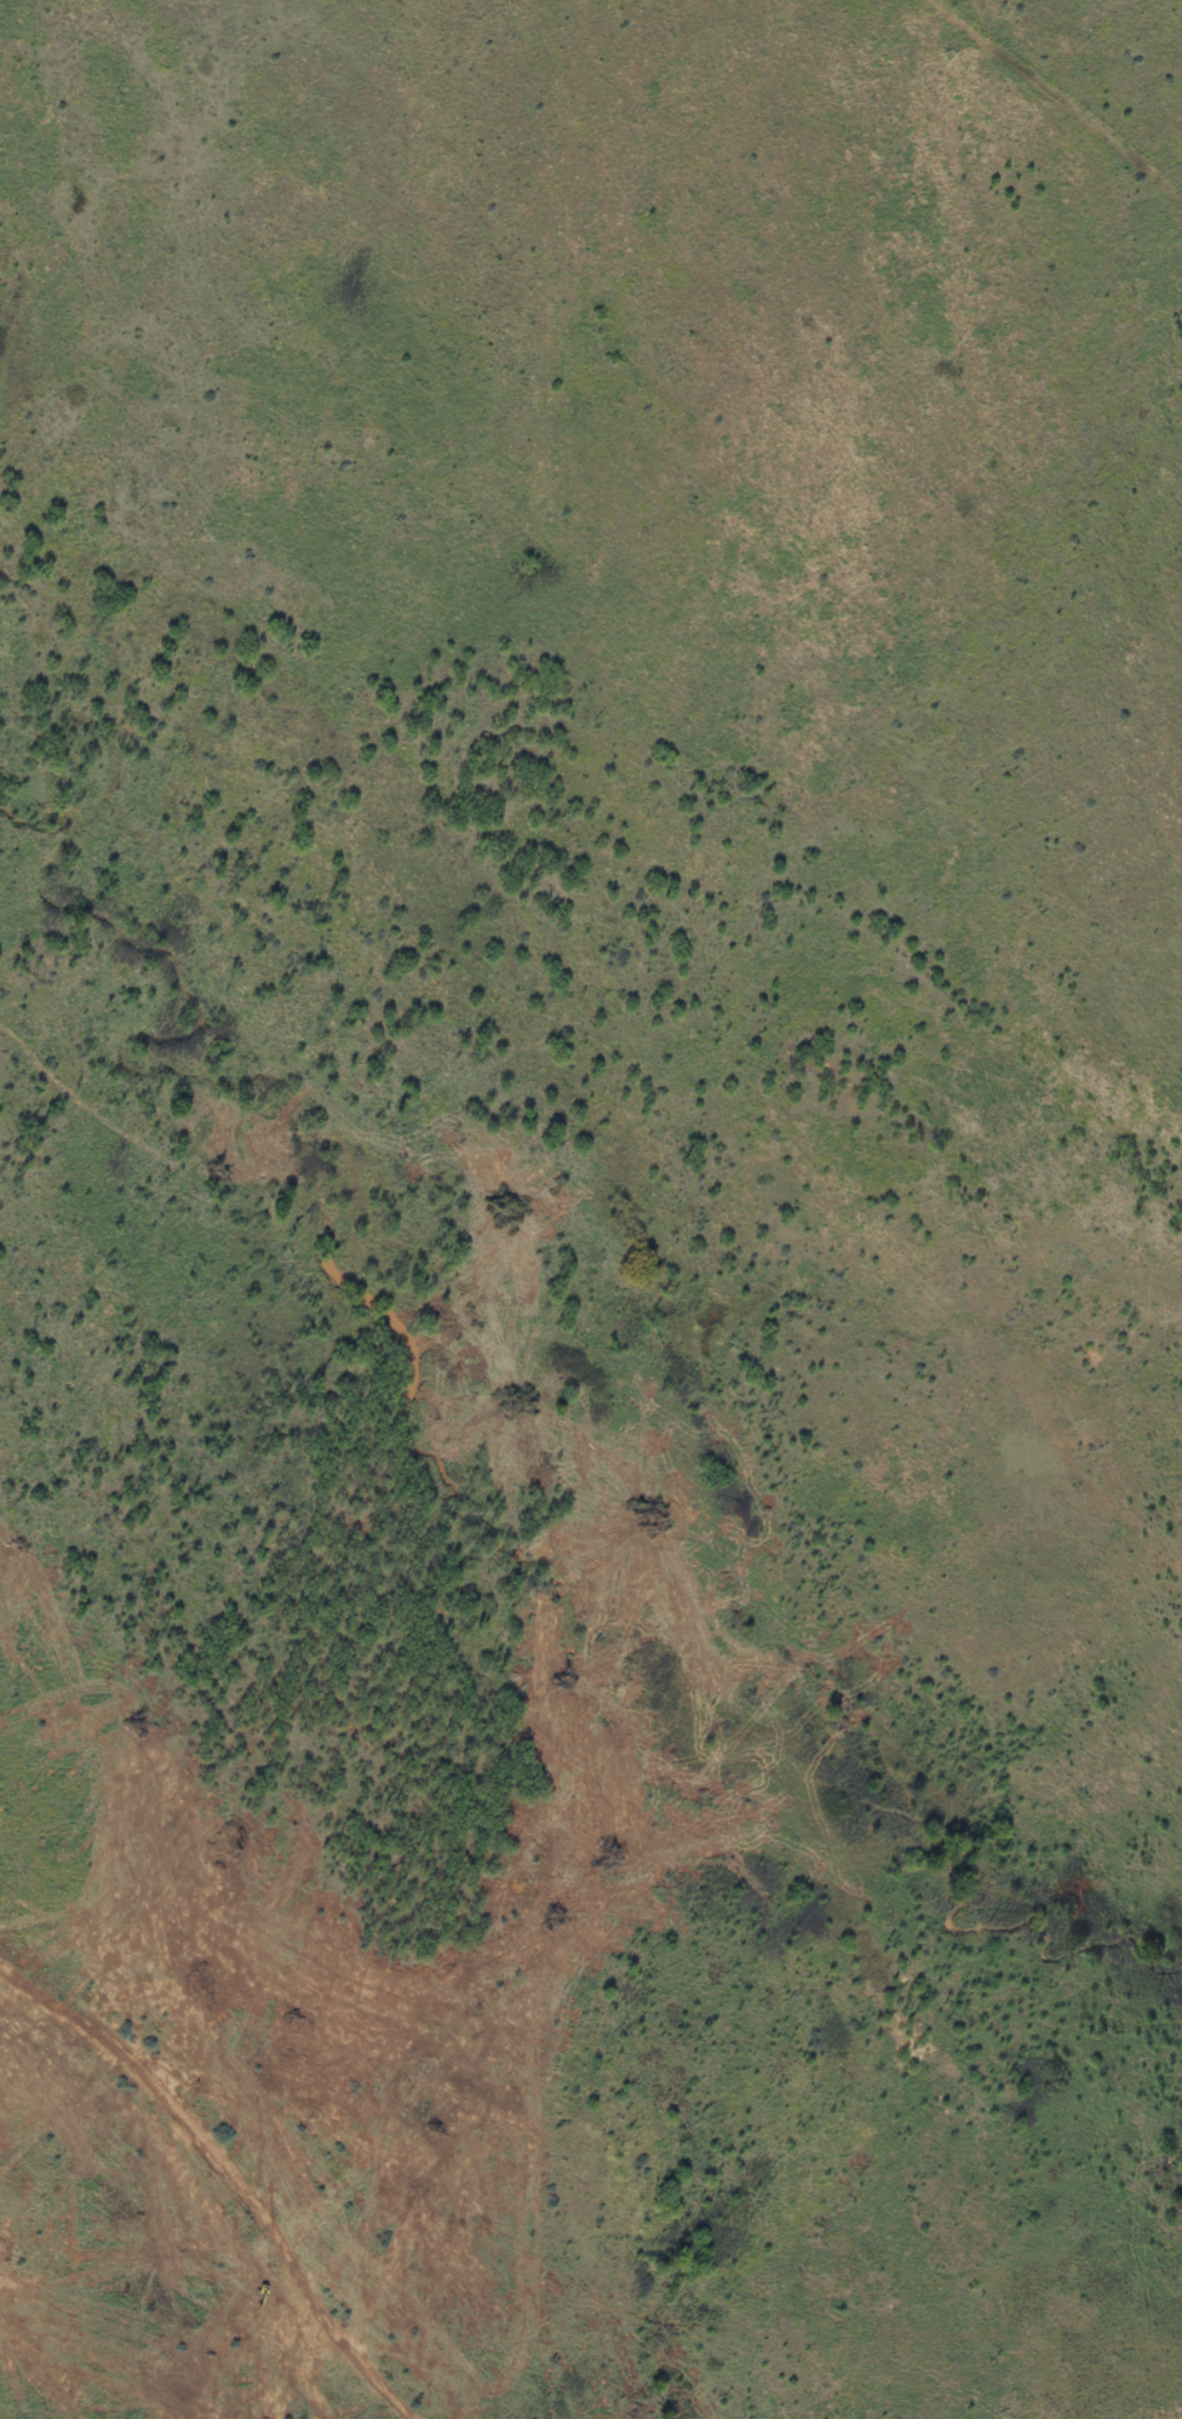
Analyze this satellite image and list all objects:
road: (268, 2157)

